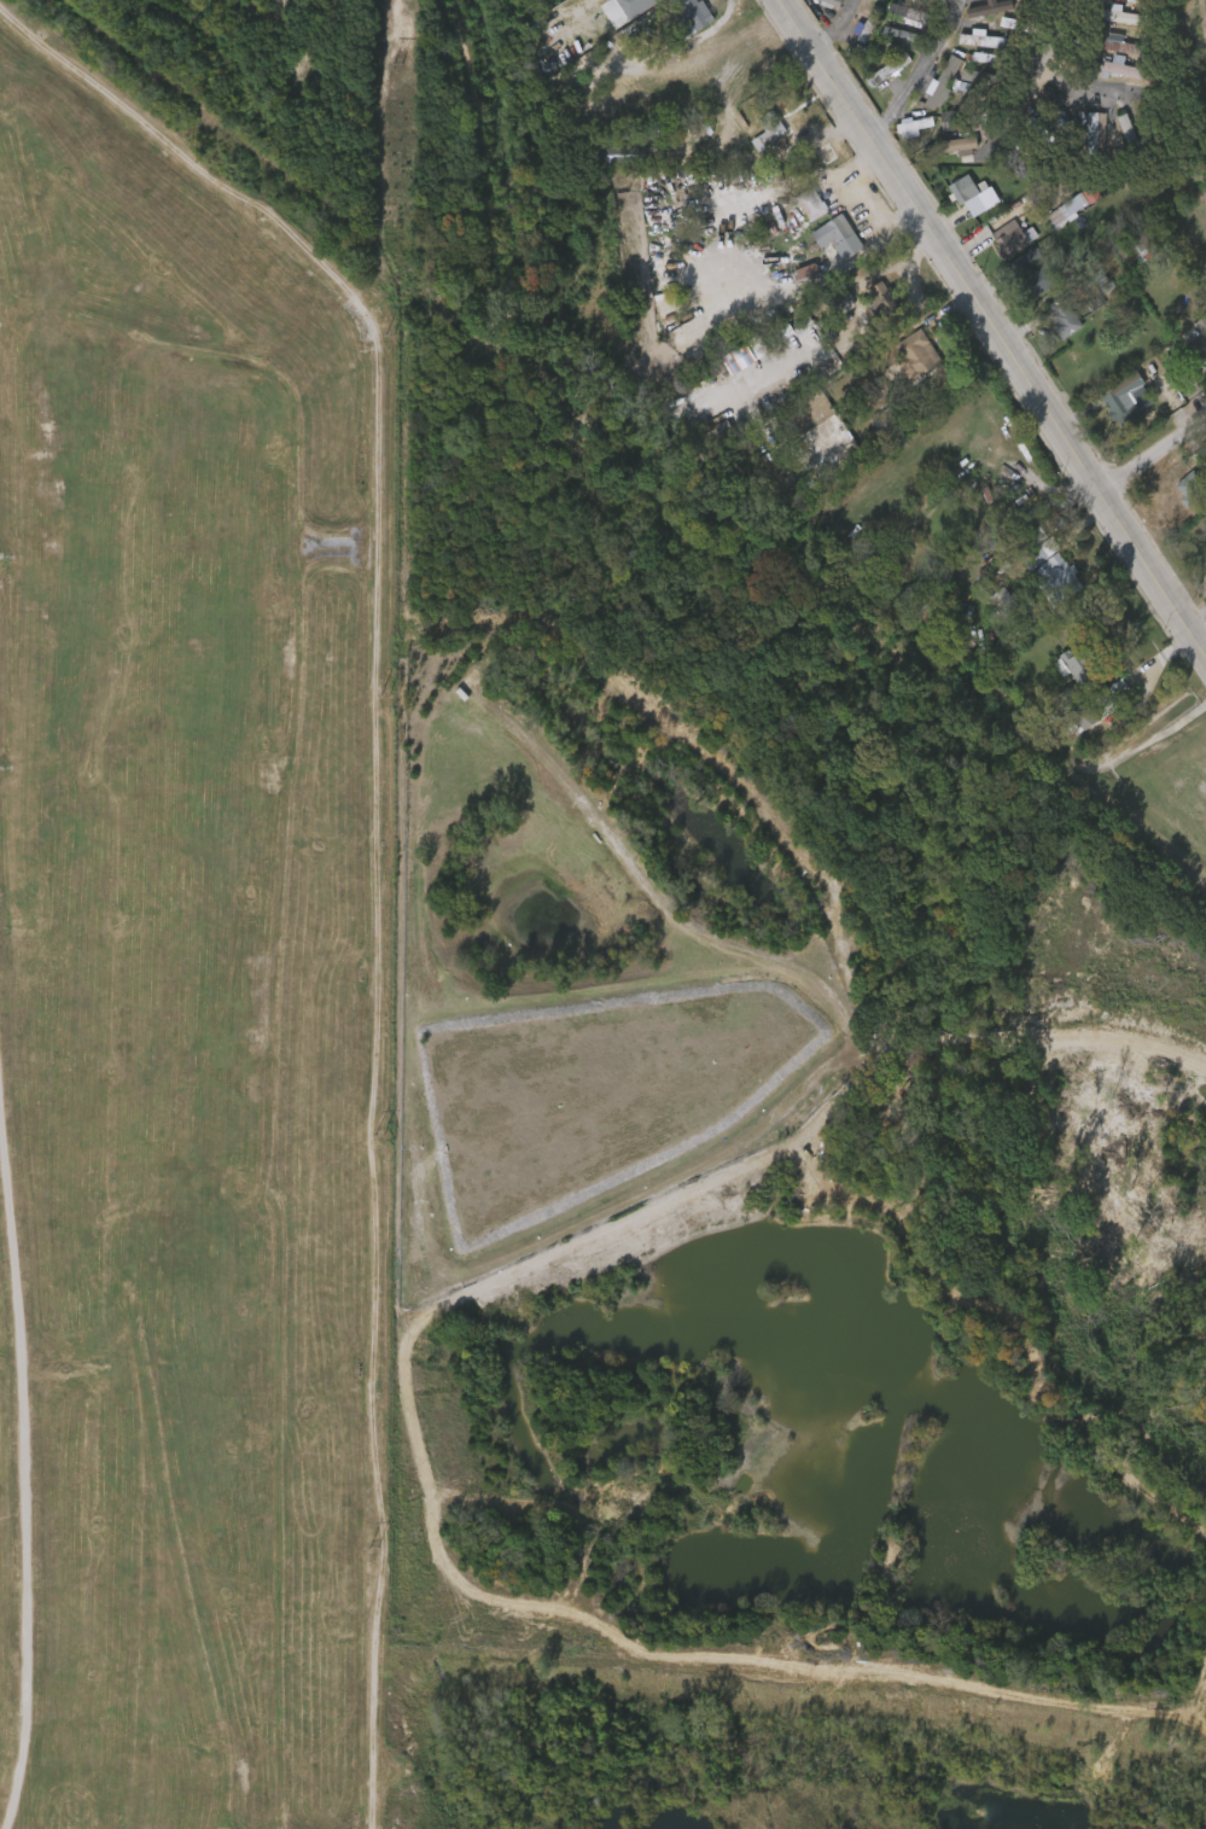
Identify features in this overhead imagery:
building: (833, 1)
building: (1030, 6)
building: (619, 10)
building: (692, 10)
building: (1124, 14)
building: (675, 19)
building: (885, 19)
road: (956, 21)
building: (1102, 25)
road: (837, 28)
building: (985, 40)
building: (1113, 45)
building: (974, 49)
building: (1123, 70)
building: (887, 71)
building: (1106, 76)
building: (933, 78)
building: (987, 78)
building: (944, 81)
road: (1035, 81)
building: (863, 83)
building: (955, 85)
road: (911, 91)
building: (1061, 111)
building: (963, 113)
building: (1035, 117)
building: (773, 126)
building: (1094, 133)
building: (897, 135)
building: (1114, 135)
building: (1128, 136)
building: (1078, 138)
building: (753, 141)
building: (950, 145)
building: (1033, 147)
building: (944, 153)
building: (809, 162)
building: (969, 194)
building: (810, 203)
building: (951, 204)
building: (1077, 208)
building: (831, 231)
building: (1012, 237)
building: (815, 240)
building: (992, 247)
building: (1141, 251)
building: (837, 256)
building: (1021, 263)
building: (1037, 280)
building: (1020, 291)
building: (881, 297)
building: (866, 305)
building: (1067, 316)
road: (990, 322)
building: (1044, 326)
building: (1199, 342)
building: (915, 354)
building: (1188, 356)
building: (899, 362)
building: (1120, 398)
building: (811, 409)
building: (889, 421)
road: (1153, 450)
building: (1189, 488)
building: (1037, 549)
building: (1055, 573)
building: (1033, 575)
building: (938, 612)
building: (1082, 665)
building: (1061, 676)
building: (1074, 709)
building: (1068, 727)
road: (378, 829)
road: (33, 1492)

